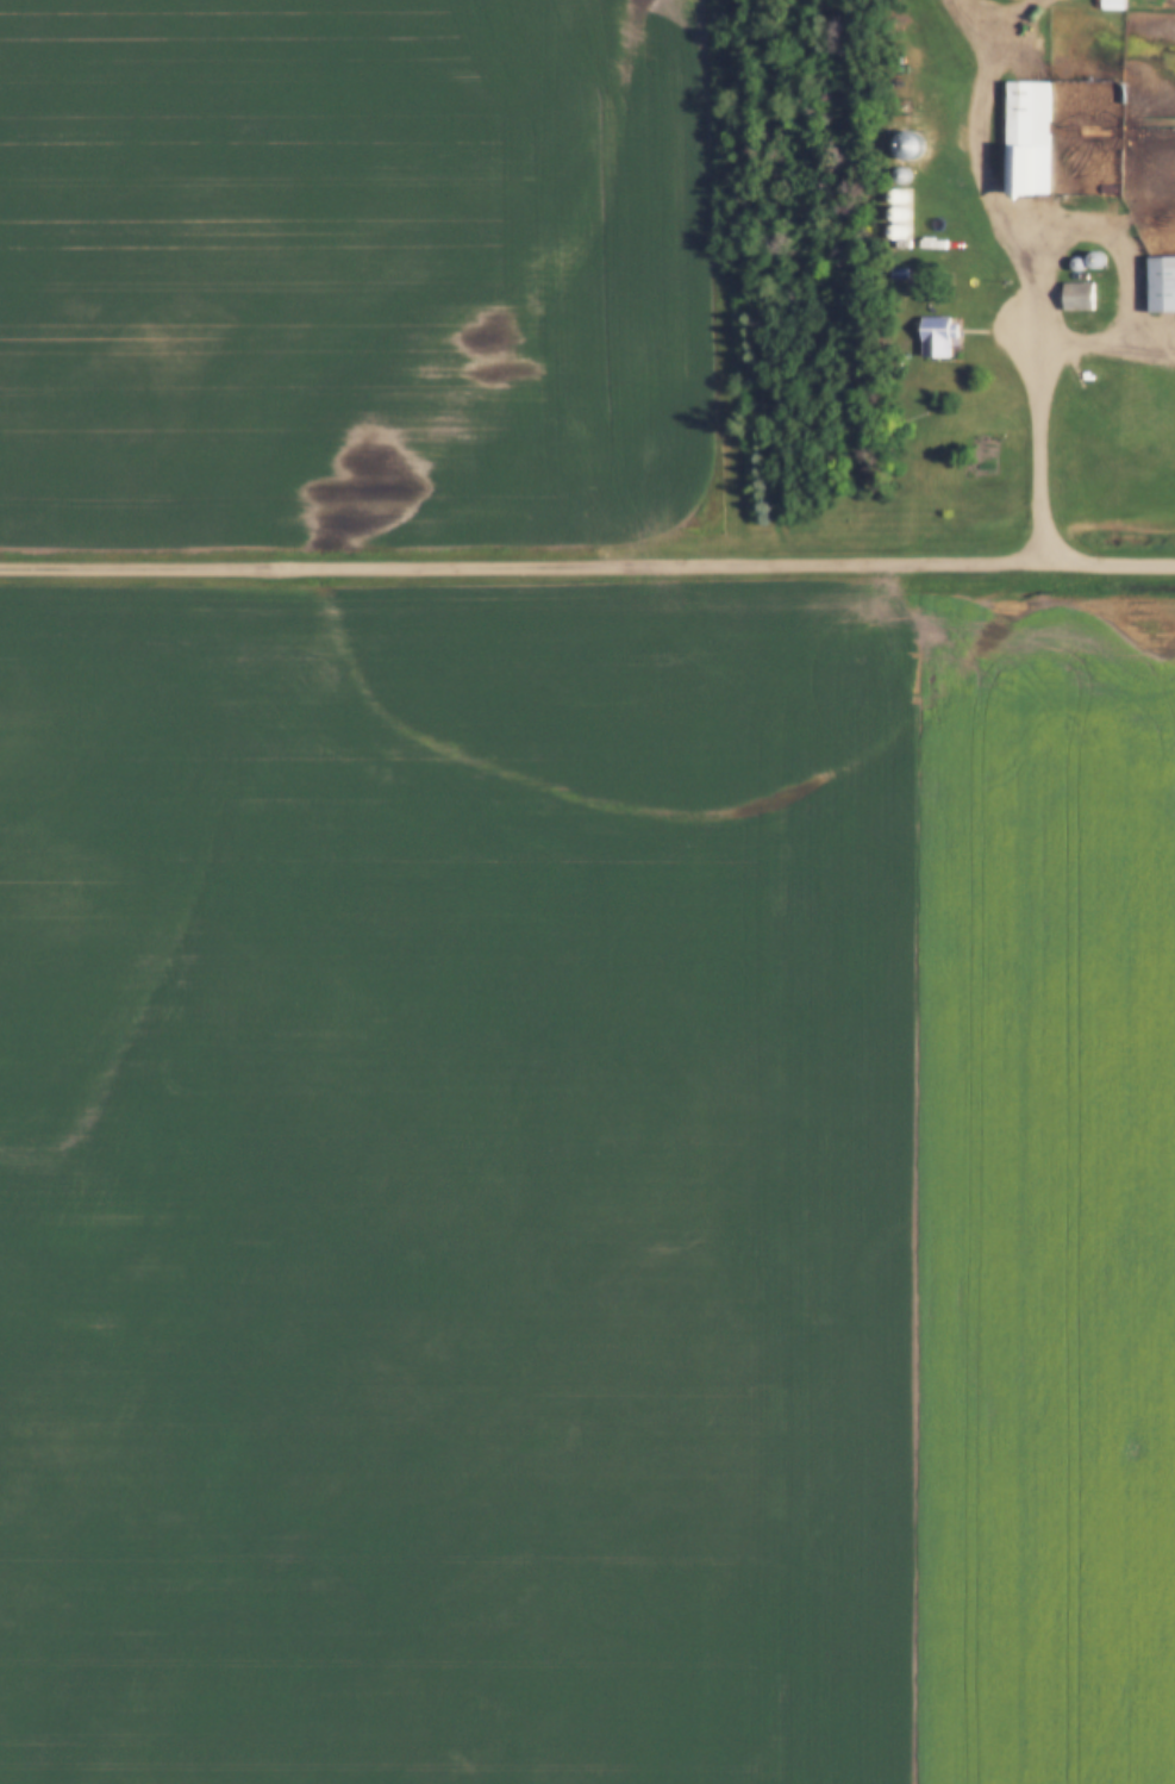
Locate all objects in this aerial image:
building: (1163, 5)
building: (1113, 6)
road: (980, 29)
building: (1027, 142)
building: (1161, 287)
building: (1077, 299)
road: (1033, 311)
building: (936, 339)
road: (1118, 563)
road: (530, 567)

